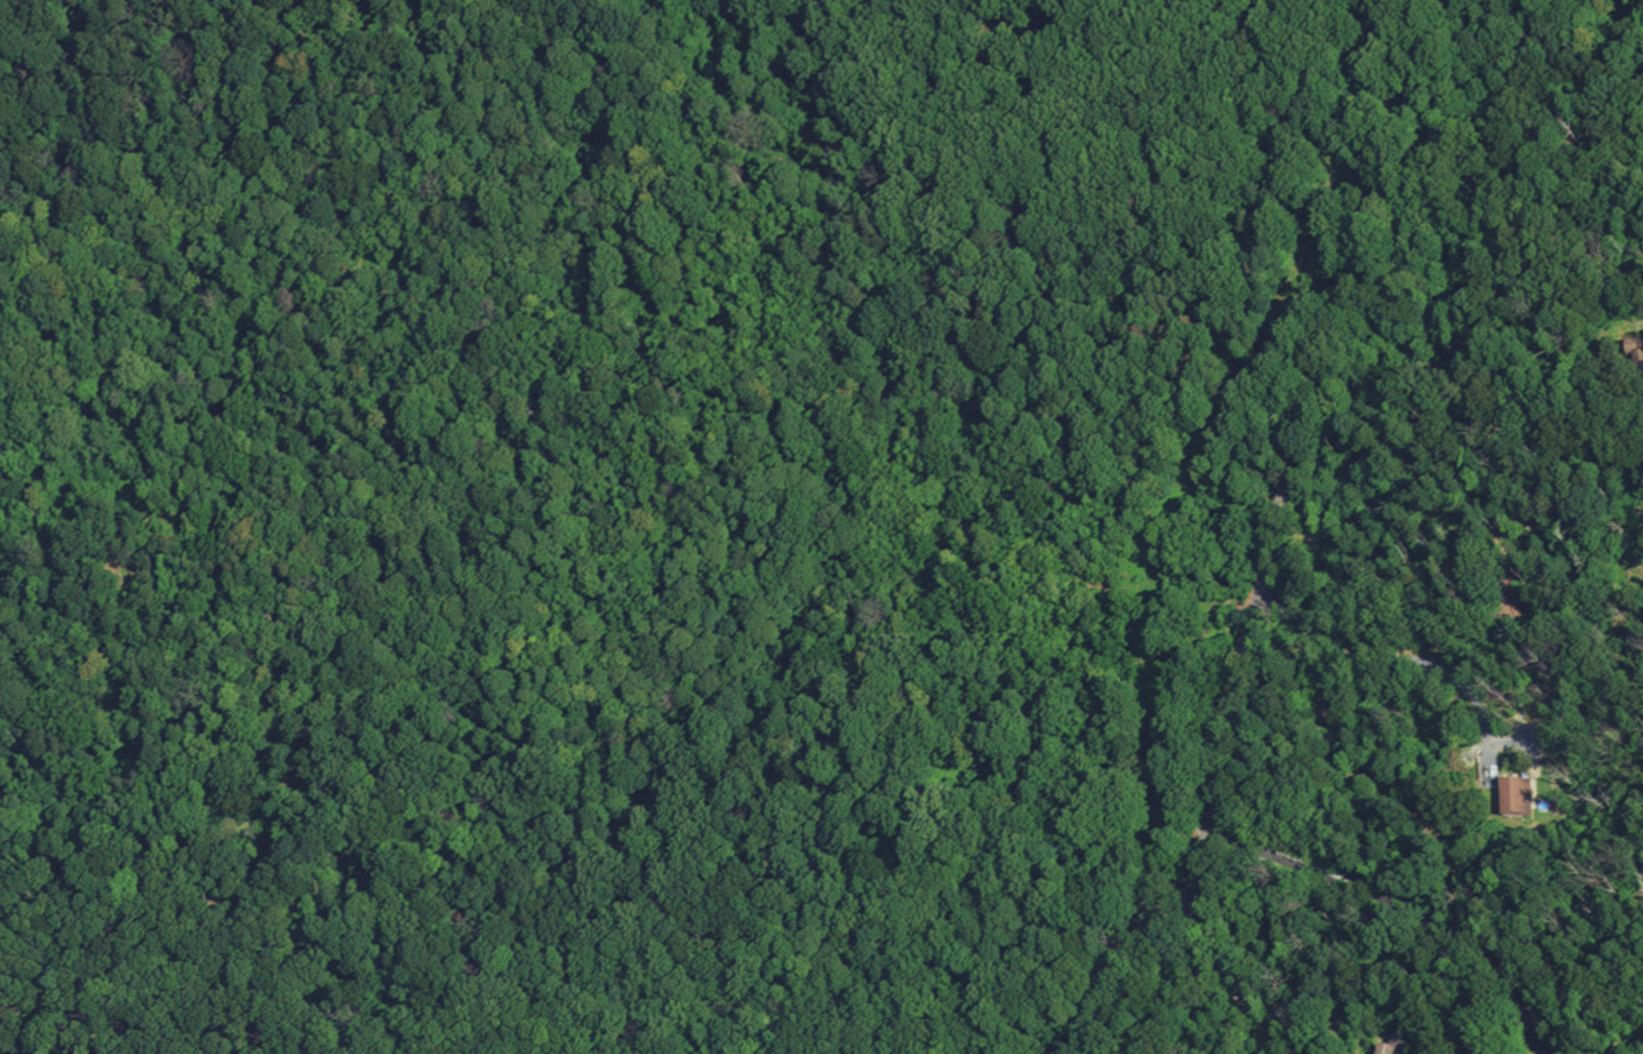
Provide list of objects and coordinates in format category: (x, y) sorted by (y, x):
road: (1517, 118)
road: (1537, 218)
building: (1636, 363)
road: (1271, 538)
road: (1399, 661)
building: (1516, 797)
road: (1403, 907)
road: (1232, 982)
building: (1390, 1046)

